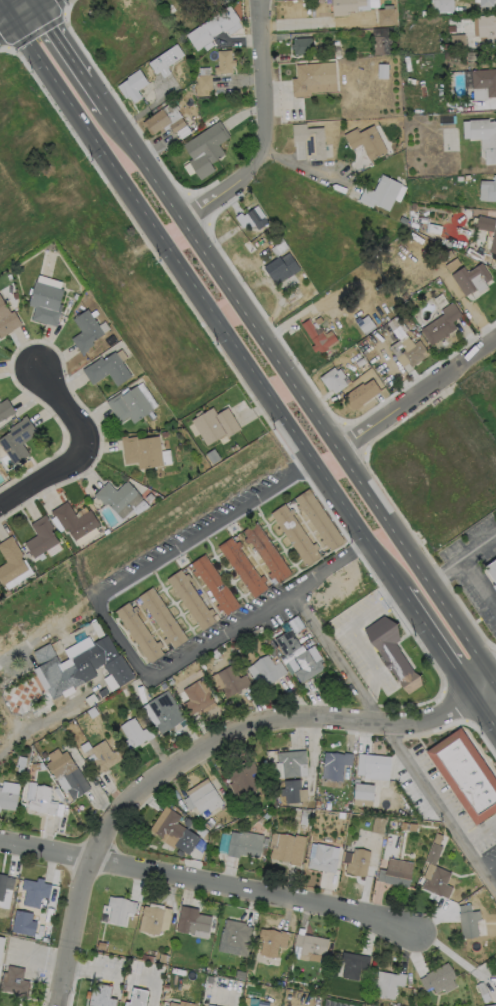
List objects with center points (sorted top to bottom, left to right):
traffic signals: (37, 0)
building: (373, 1)
building: (487, 3)
road: (30, 4)
building: (346, 6)
building: (446, 6)
road: (11, 16)
traffic signals: (12, 16)
building: (387, 17)
building: (192, 22)
building: (213, 28)
building: (487, 28)
building: (452, 29)
building: (384, 41)
building: (458, 42)
building: (303, 46)
building: (446, 47)
building: (472, 57)
building: (284, 59)
building: (167, 61)
building: (225, 63)
building: (383, 72)
building: (314, 76)
building: (485, 81)
building: (205, 83)
building: (134, 86)
building: (157, 122)
building: (178, 125)
road: (269, 133)
building: (485, 139)
building: (311, 141)
building: (367, 142)
building: (207, 149)
road: (301, 165)
building: (488, 190)
building: (382, 194)
building: (257, 220)
building: (404, 221)
building: (486, 224)
building: (494, 245)
building: (448, 256)
building: (282, 268)
building: (470, 278)
building: (315, 294)
building: (16, 296)
building: (77, 297)
building: (89, 297)
building: (295, 299)
building: (46, 304)
building: (407, 308)
building: (7, 320)
building: (319, 321)
building: (442, 325)
building: (366, 326)
building: (389, 331)
building: (87, 332)
building: (318, 338)
road: (262, 340)
building: (415, 353)
road: (249, 362)
building: (108, 370)
building: (334, 380)
building: (362, 395)
road: (417, 395)
building: (130, 406)
building: (6, 410)
building: (216, 425)
building: (164, 435)
building: (18, 440)
road: (80, 445)
building: (143, 452)
building: (213, 457)
building: (117, 496)
building: (290, 501)
building: (319, 520)
building: (75, 521)
building: (296, 534)
building: (42, 538)
building: (267, 553)
road: (463, 559)
building: (11, 562)
road: (331, 564)
building: (243, 567)
building: (492, 572)
building: (216, 585)
building: (495, 590)
building: (7, 594)
road: (97, 600)
building: (192, 600)
building: (163, 618)
building: (296, 625)
building: (140, 632)
building: (273, 634)
building: (287, 644)
building: (106, 649)
road: (13, 654)
building: (393, 654)
building: (275, 660)
building: (307, 665)
building: (270, 670)
building: (119, 671)
building: (62, 672)
building: (171, 681)
building: (233, 682)
building: (164, 686)
building: (126, 691)
building: (104, 693)
building: (198, 700)
building: (166, 712)
building: (106, 714)
road: (259, 721)
road: (41, 729)
building: (136, 734)
road: (393, 739)
building: (44, 756)
building: (103, 757)
building: (22, 762)
building: (292, 763)
building: (373, 765)
building: (37, 766)
building: (336, 766)
building: (69, 774)
building: (467, 776)
building: (239, 784)
building: (292, 792)
building: (365, 792)
building: (8, 800)
building: (44, 801)
building: (205, 802)
building: (362, 802)
building: (318, 804)
building: (365, 811)
building: (342, 815)
building: (267, 816)
building: (305, 817)
building: (393, 821)
building: (187, 822)
building: (209, 826)
building: (379, 826)
building: (196, 827)
building: (405, 827)
building: (203, 832)
building: (178, 833)
building: (266, 842)
building: (245, 845)
building: (290, 850)
building: (180, 854)
building: (432, 854)
building: (324, 859)
building: (359, 863)
building: (398, 878)
road: (219, 883)
building: (439, 883)
building: (5, 885)
building: (36, 892)
building: (54, 903)
building: (120, 910)
building: (155, 920)
building: (469, 921)
building: (194, 922)
building: (41, 933)
building: (236, 939)
building: (272, 942)
road: (72, 944)
building: (315, 945)
building: (151, 959)
building: (163, 959)
building: (354, 965)
road: (124, 976)
building: (242, 976)
building: (442, 978)
building: (16, 982)
building: (281, 983)
building: (390, 984)
building: (167, 988)
building: (483, 990)
building: (320, 991)
building: (495, 991)
building: (102, 996)
building: (296, 996)
building: (138, 998)
building: (308, 999)
building: (182, 1004)
building: (494, 1005)

